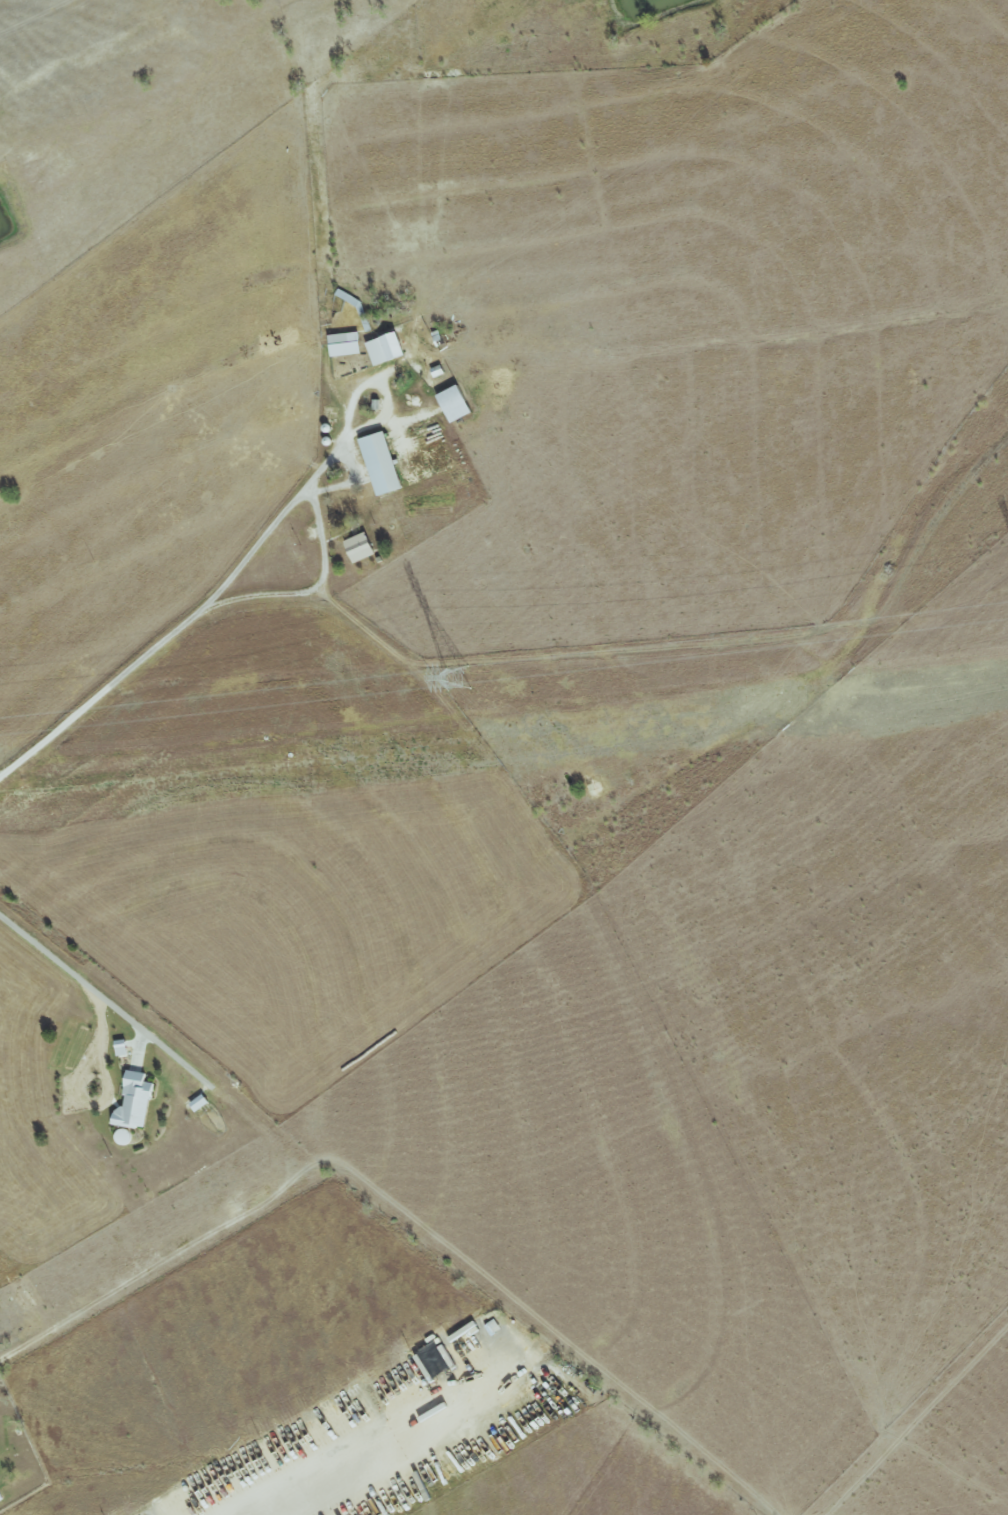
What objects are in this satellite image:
building: (344, 348)
building: (385, 353)
road: (194, 616)
road: (599, 652)
power tower: (457, 678)
road: (106, 1086)
building: (135, 1104)
road: (266, 1152)

